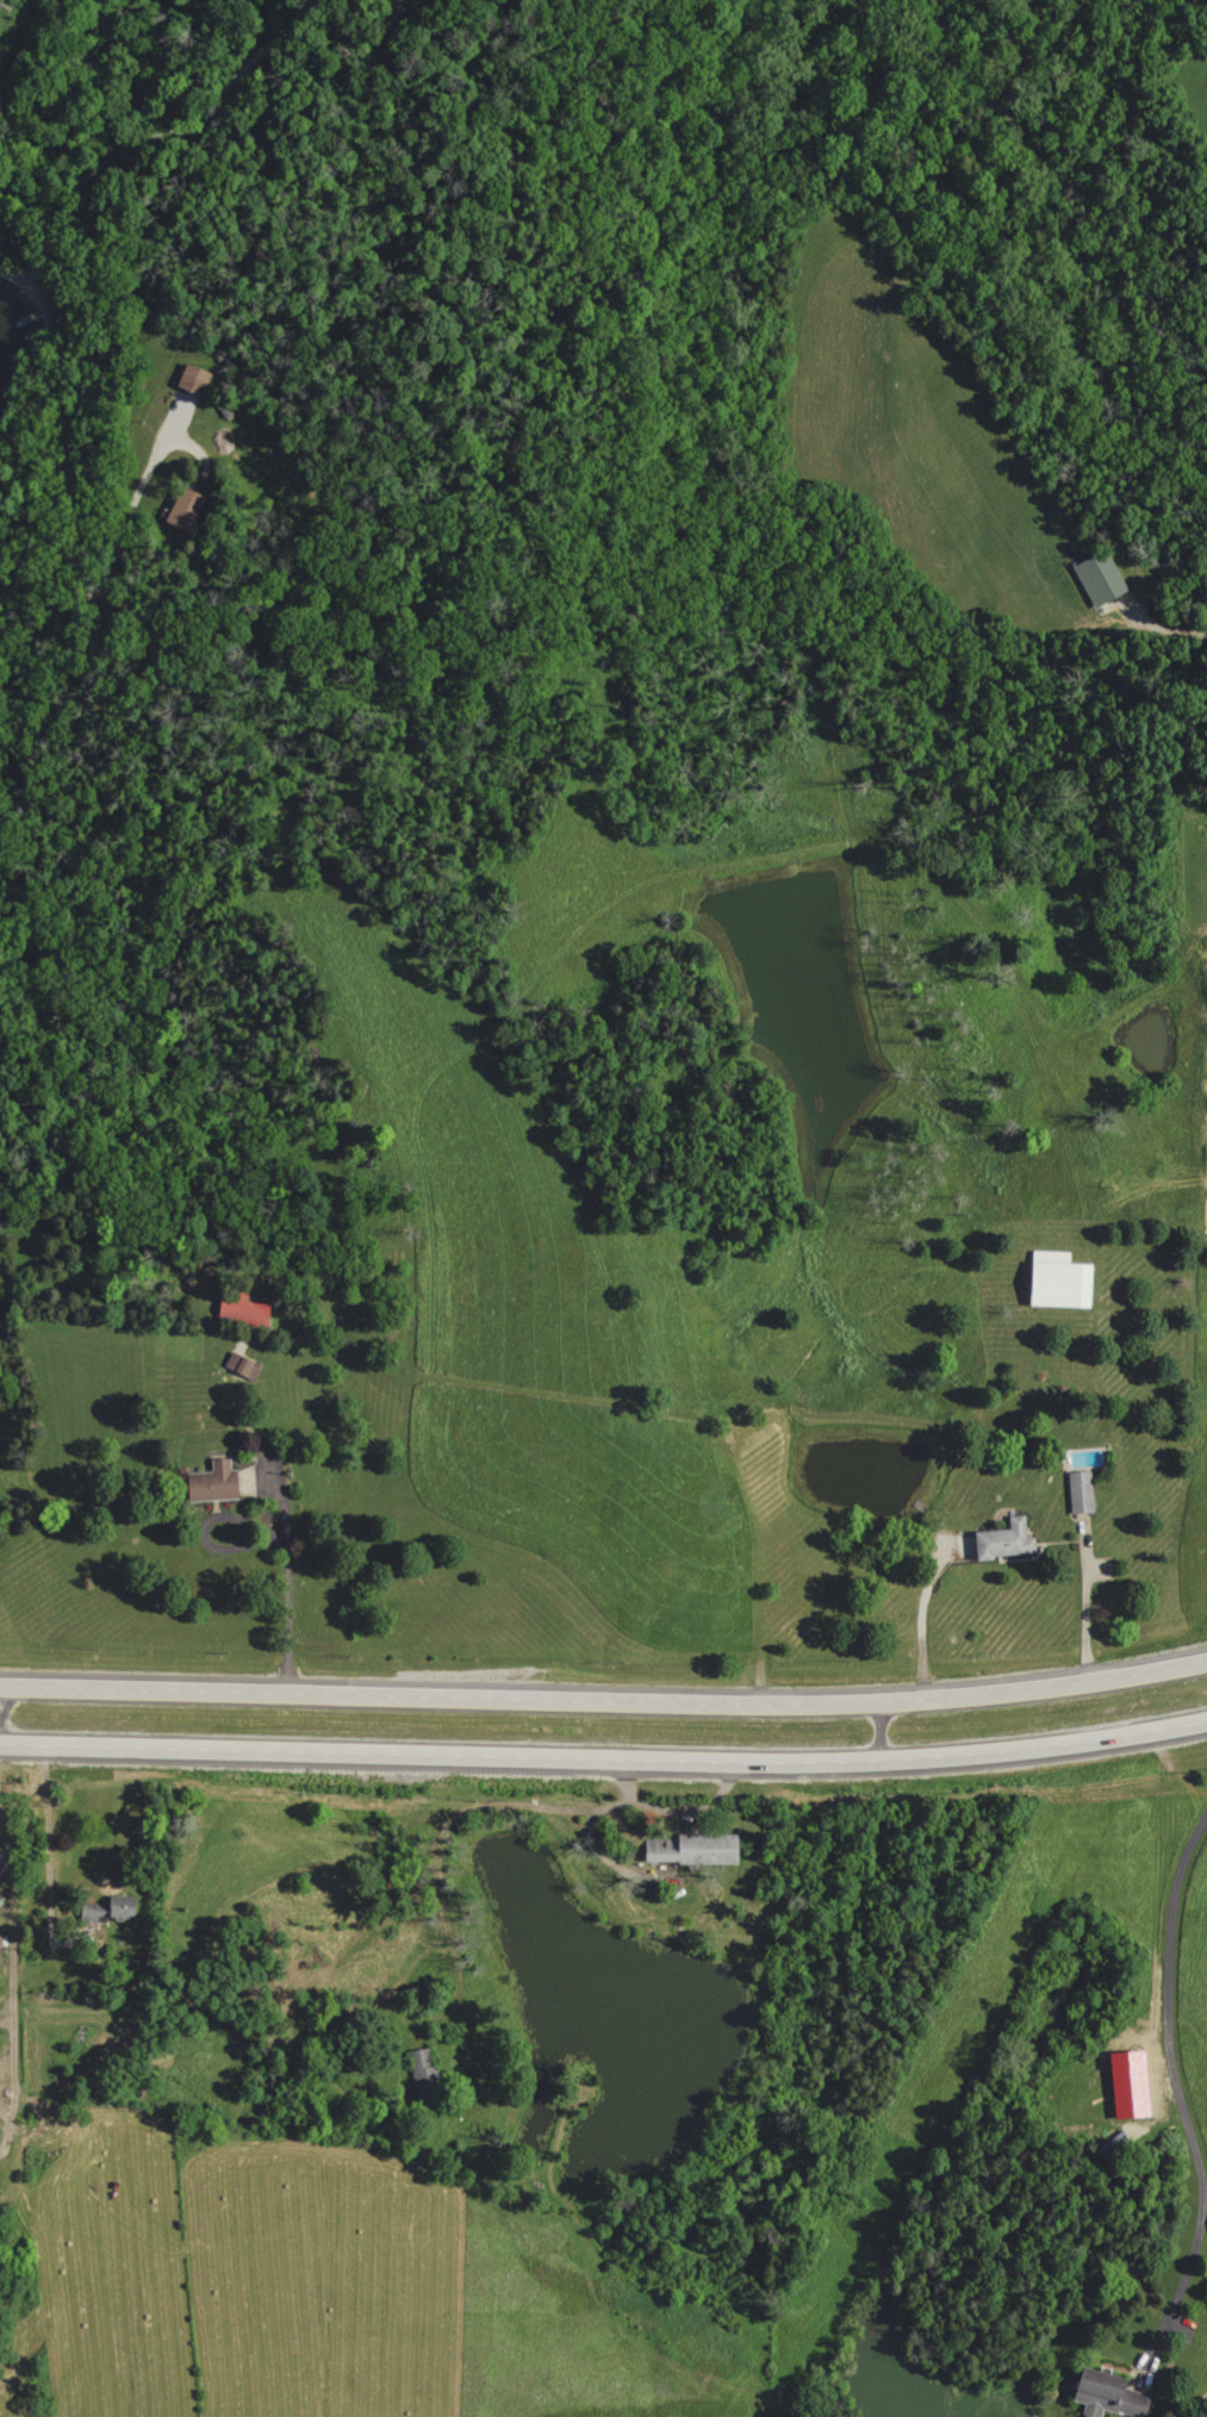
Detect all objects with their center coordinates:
road: (154, 133)
building: (199, 379)
building: (189, 507)
road: (71, 516)
building: (1103, 579)
building: (1066, 1281)
building: (250, 1313)
building: (245, 1364)
building: (222, 1483)
building: (1085, 1493)
road: (268, 1527)
building: (1012, 1540)
road: (932, 1612)
road: (604, 1697)
road: (1, 1713)
road: (882, 1730)
road: (604, 1756)
road: (46, 1850)
building: (702, 1850)
building: (120, 1911)
road: (12, 1935)
building: (431, 2080)
road: (1175, 2094)
building: (0, 2100)
building: (1102, 2393)

